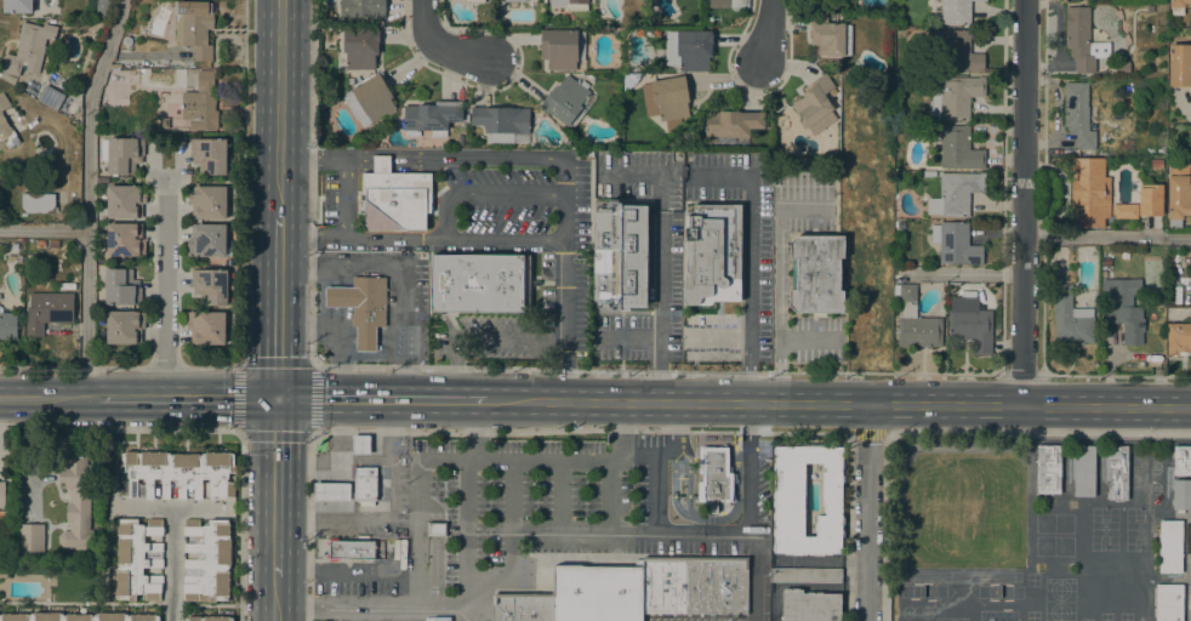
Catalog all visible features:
building: (514, 0)
building: (474, 1)
building: (570, 4)
building: (718, 4)
building: (1178, 5)
building: (17, 6)
building: (1149, 7)
building: (102, 8)
building: (361, 8)
building: (956, 11)
building: (193, 27)
road: (765, 33)
building: (828, 35)
building: (1082, 39)
building: (126, 40)
building: (360, 47)
road: (440, 47)
building: (562, 47)
building: (28, 49)
building: (688, 49)
building: (957, 50)
building: (1179, 64)
building: (1123, 65)
building: (953, 96)
building: (50, 98)
building: (369, 99)
building: (666, 99)
building: (2, 101)
building: (204, 101)
building: (568, 101)
building: (813, 101)
road: (280, 108)
building: (101, 109)
building: (1078, 115)
building: (431, 118)
building: (164, 123)
building: (501, 123)
building: (730, 125)
building: (6, 132)
building: (571, 146)
building: (957, 147)
building: (1161, 148)
road: (422, 152)
building: (120, 154)
building: (209, 154)
building: (1155, 164)
building: (102, 181)
building: (958, 190)
building: (1088, 193)
building: (1178, 193)
road: (87, 195)
building: (394, 198)
road: (343, 199)
building: (1150, 200)
building: (124, 201)
building: (207, 201)
road: (1024, 201)
building: (36, 203)
building: (1123, 210)
road: (241, 211)
road: (661, 227)
road: (44, 228)
road: (1107, 235)
road: (422, 237)
building: (124, 239)
building: (206, 239)
building: (39, 243)
building: (954, 243)
building: (53, 244)
building: (15, 245)
building: (712, 253)
building: (620, 256)
road: (963, 272)
road: (399, 273)
building: (815, 273)
road: (780, 279)
road: (564, 280)
building: (479, 283)
road: (164, 285)
building: (210, 285)
building: (120, 286)
road: (279, 307)
building: (361, 307)
building: (1124, 307)
building: (47, 310)
building: (1069, 317)
building: (914, 320)
building: (969, 324)
building: (7, 325)
building: (124, 326)
building: (205, 326)
building: (1179, 337)
road: (332, 338)
road: (514, 338)
road: (807, 338)
road: (653, 344)
road: (455, 365)
road: (312, 366)
road: (70, 368)
road: (473, 368)
road: (163, 369)
road: (1116, 374)
road: (42, 395)
road: (182, 395)
traffic signals: (278, 398)
road: (382, 398)
road: (677, 401)
road: (894, 403)
road: (944, 404)
road: (996, 404)
road: (1109, 404)
road: (672, 423)
road: (623, 425)
road: (119, 428)
road: (472, 428)
road: (580, 432)
road: (867, 432)
road: (944, 432)
building: (359, 445)
road: (648, 451)
road: (444, 458)
road: (538, 460)
building: (1181, 461)
road: (752, 466)
building: (1048, 469)
building: (1083, 471)
building: (1116, 472)
building: (176, 473)
building: (714, 474)
building: (364, 483)
road: (275, 486)
road: (610, 488)
building: (331, 491)
road: (659, 491)
building: (1, 494)
building: (1180, 495)
building: (76, 501)
building: (787, 502)
road: (170, 506)
road: (865, 511)
road: (239, 526)
building: (435, 529)
road: (468, 531)
road: (632, 531)
road: (417, 532)
building: (29, 539)
road: (512, 540)
building: (1169, 546)
building: (349, 549)
building: (137, 560)
building: (206, 560)
road: (169, 563)
building: (805, 575)
road: (752, 576)
building: (694, 585)
building: (597, 593)
road: (274, 598)
building: (1168, 603)
road: (380, 605)
building: (809, 605)
building: (522, 606)
building: (78, 616)
building: (207, 619)

